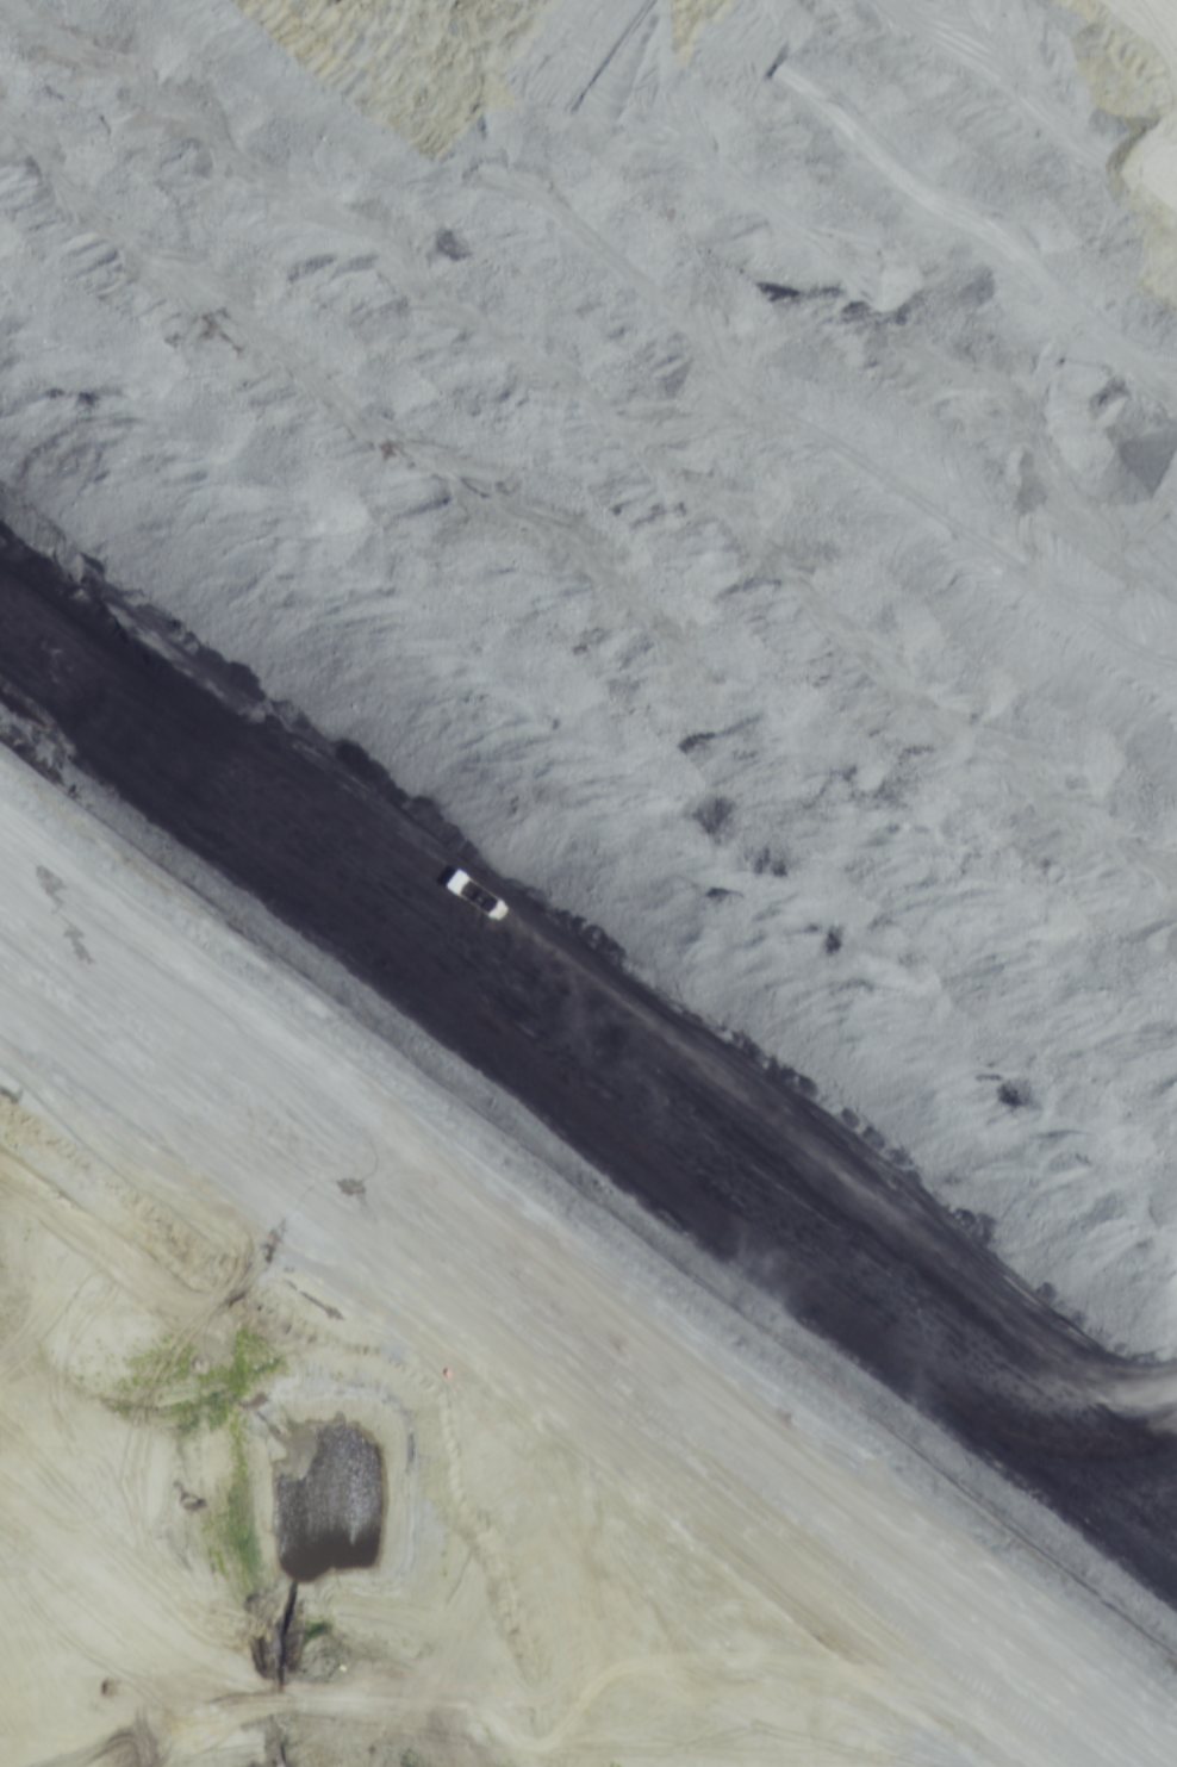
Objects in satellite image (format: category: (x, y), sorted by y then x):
road: (1078, 888)

